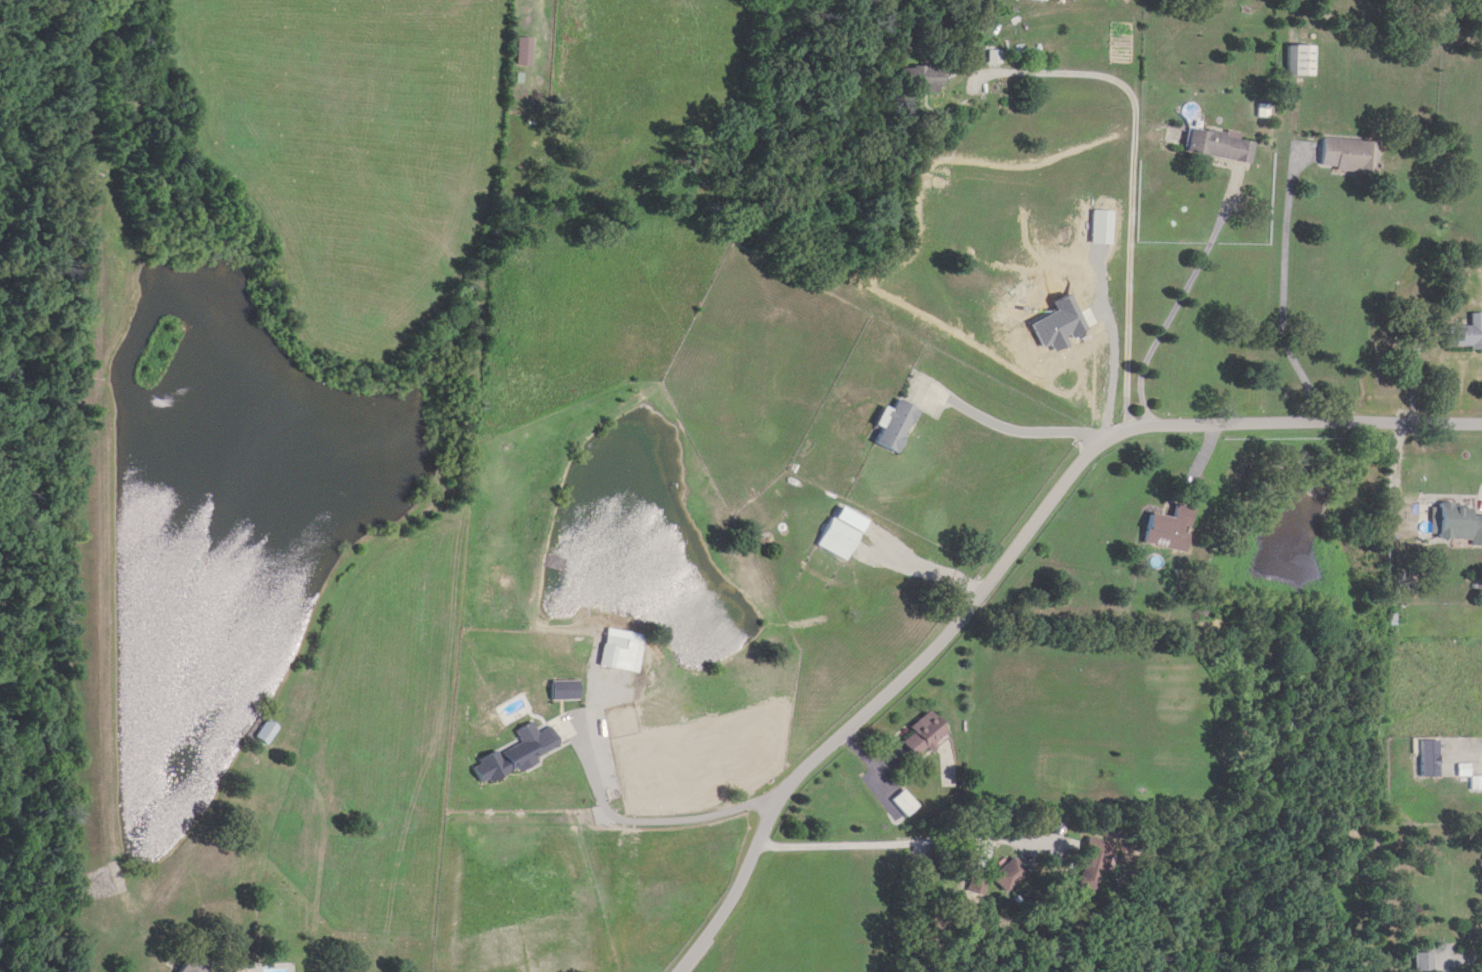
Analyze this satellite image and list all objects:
building: (1299, 61)
building: (917, 79)
building: (1220, 146)
building: (1348, 156)
road: (1131, 189)
road: (1284, 262)
road: (1171, 318)
building: (1465, 335)
building: (895, 427)
road: (1026, 437)
road: (106, 488)
building: (1455, 523)
building: (1169, 529)
building: (837, 539)
road: (1008, 557)
road: (917, 572)
road: (1370, 621)
building: (620, 653)
building: (563, 690)
building: (265, 731)
building: (924, 733)
building: (516, 753)
building: (1428, 757)
building: (903, 803)
road: (655, 825)
road: (907, 845)
building: (1093, 864)
building: (1008, 875)
building: (1422, 962)
building: (197, 965)

